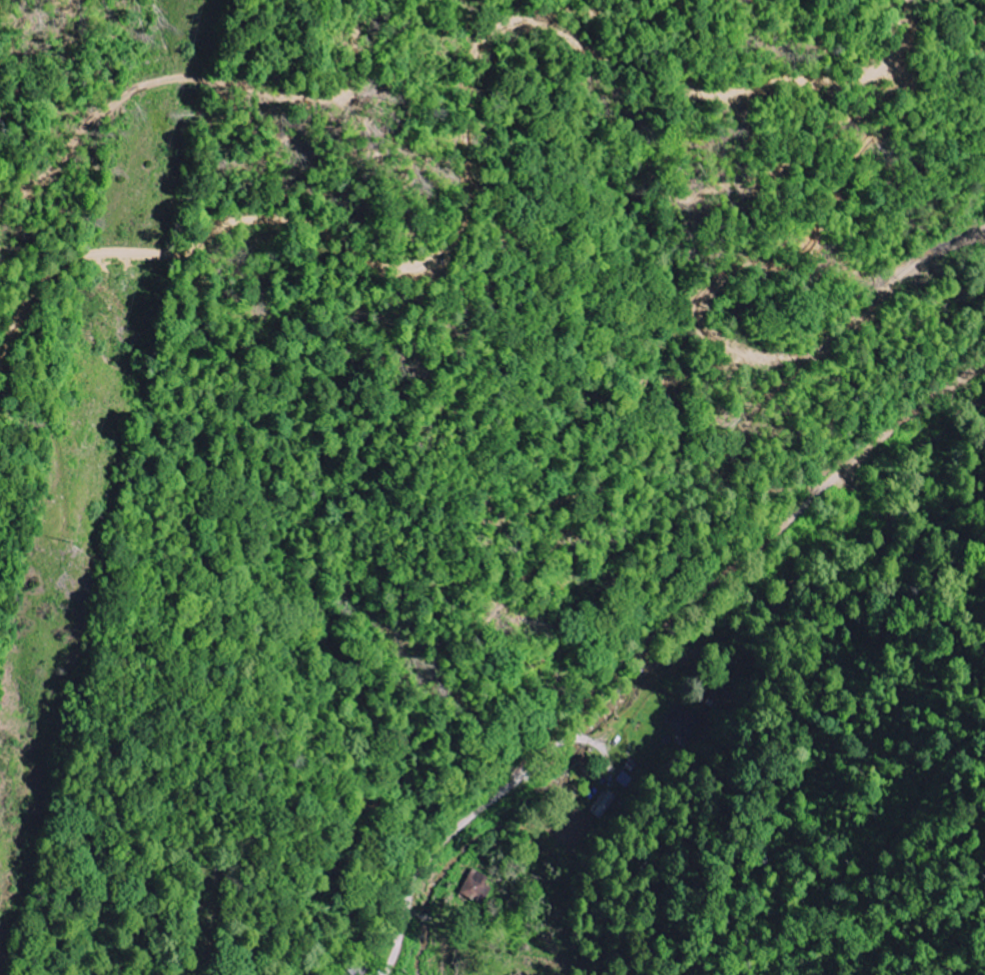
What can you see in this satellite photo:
building: (684, 719)
road: (566, 743)
road: (505, 790)
building: (604, 805)
road: (164, 867)
building: (476, 886)
road: (441, 922)

